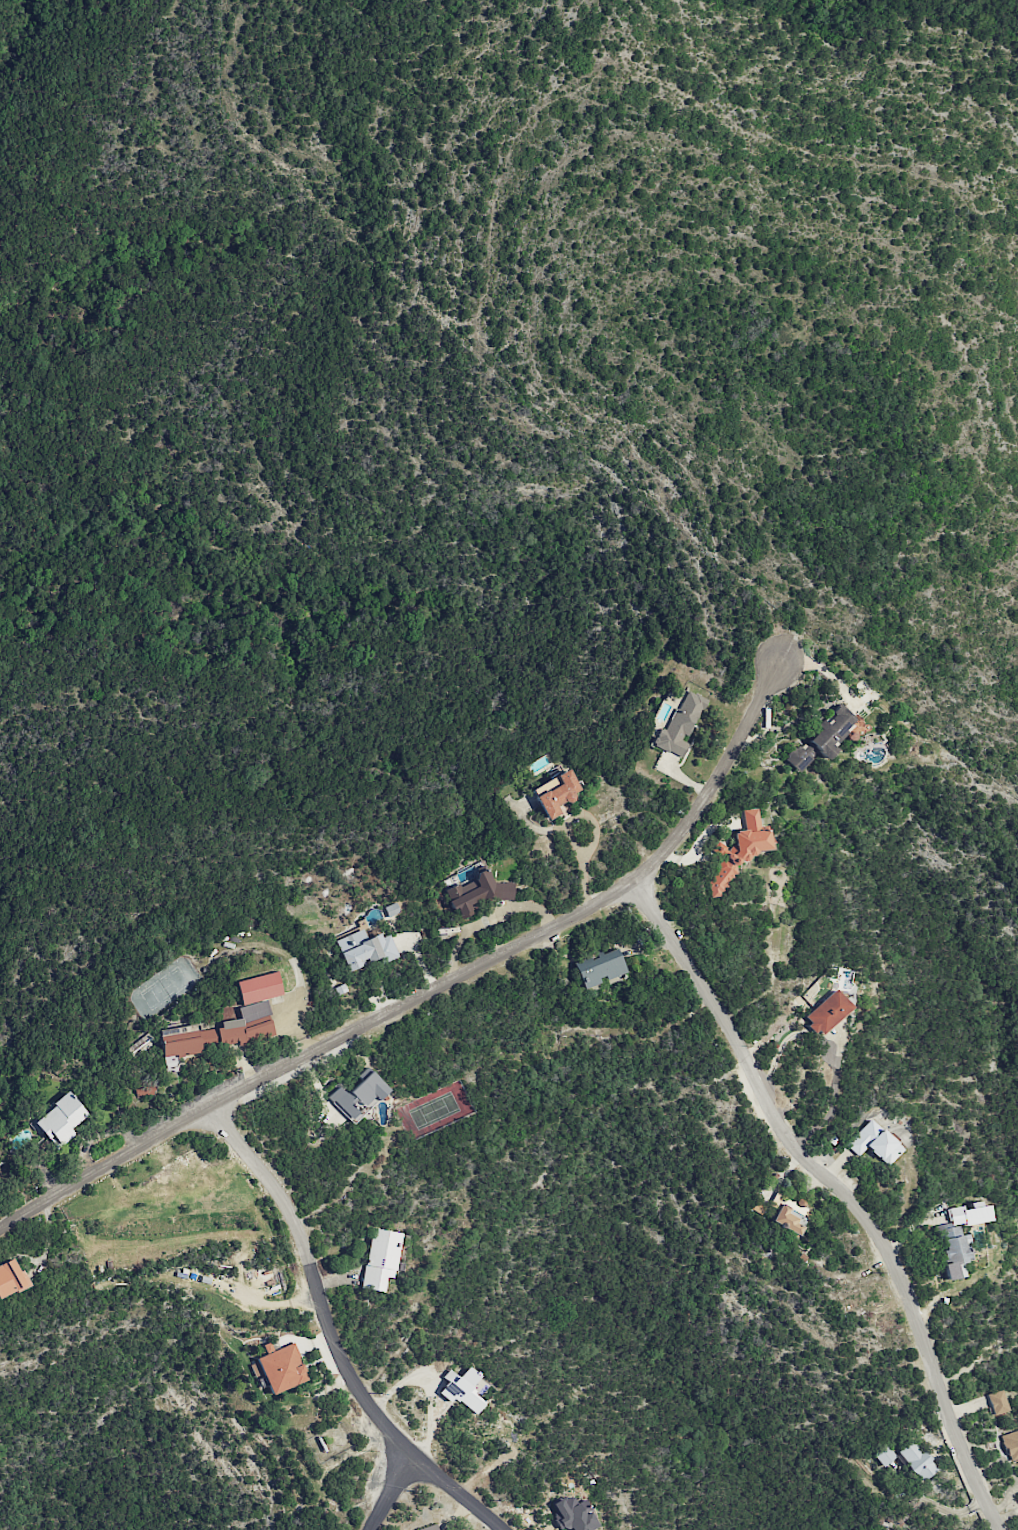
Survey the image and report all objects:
building: (679, 725)
building: (823, 738)
building: (556, 794)
building: (738, 851)
road: (585, 867)
building: (477, 893)
building: (364, 949)
building: (598, 968)
building: (258, 988)
building: (339, 989)
road: (436, 989)
building: (826, 1012)
building: (239, 1028)
building: (179, 1041)
building: (140, 1045)
road: (775, 1054)
building: (357, 1096)
road: (833, 1099)
building: (61, 1120)
building: (874, 1143)
road: (841, 1192)
building: (788, 1213)
building: (958, 1237)
building: (379, 1259)
building: (11, 1278)
road: (330, 1336)
building: (279, 1368)
building: (465, 1389)
building: (996, 1402)
building: (1011, 1445)
building: (883, 1454)
building: (916, 1460)
road: (391, 1490)
building: (572, 1514)
building: (429, 1528)

